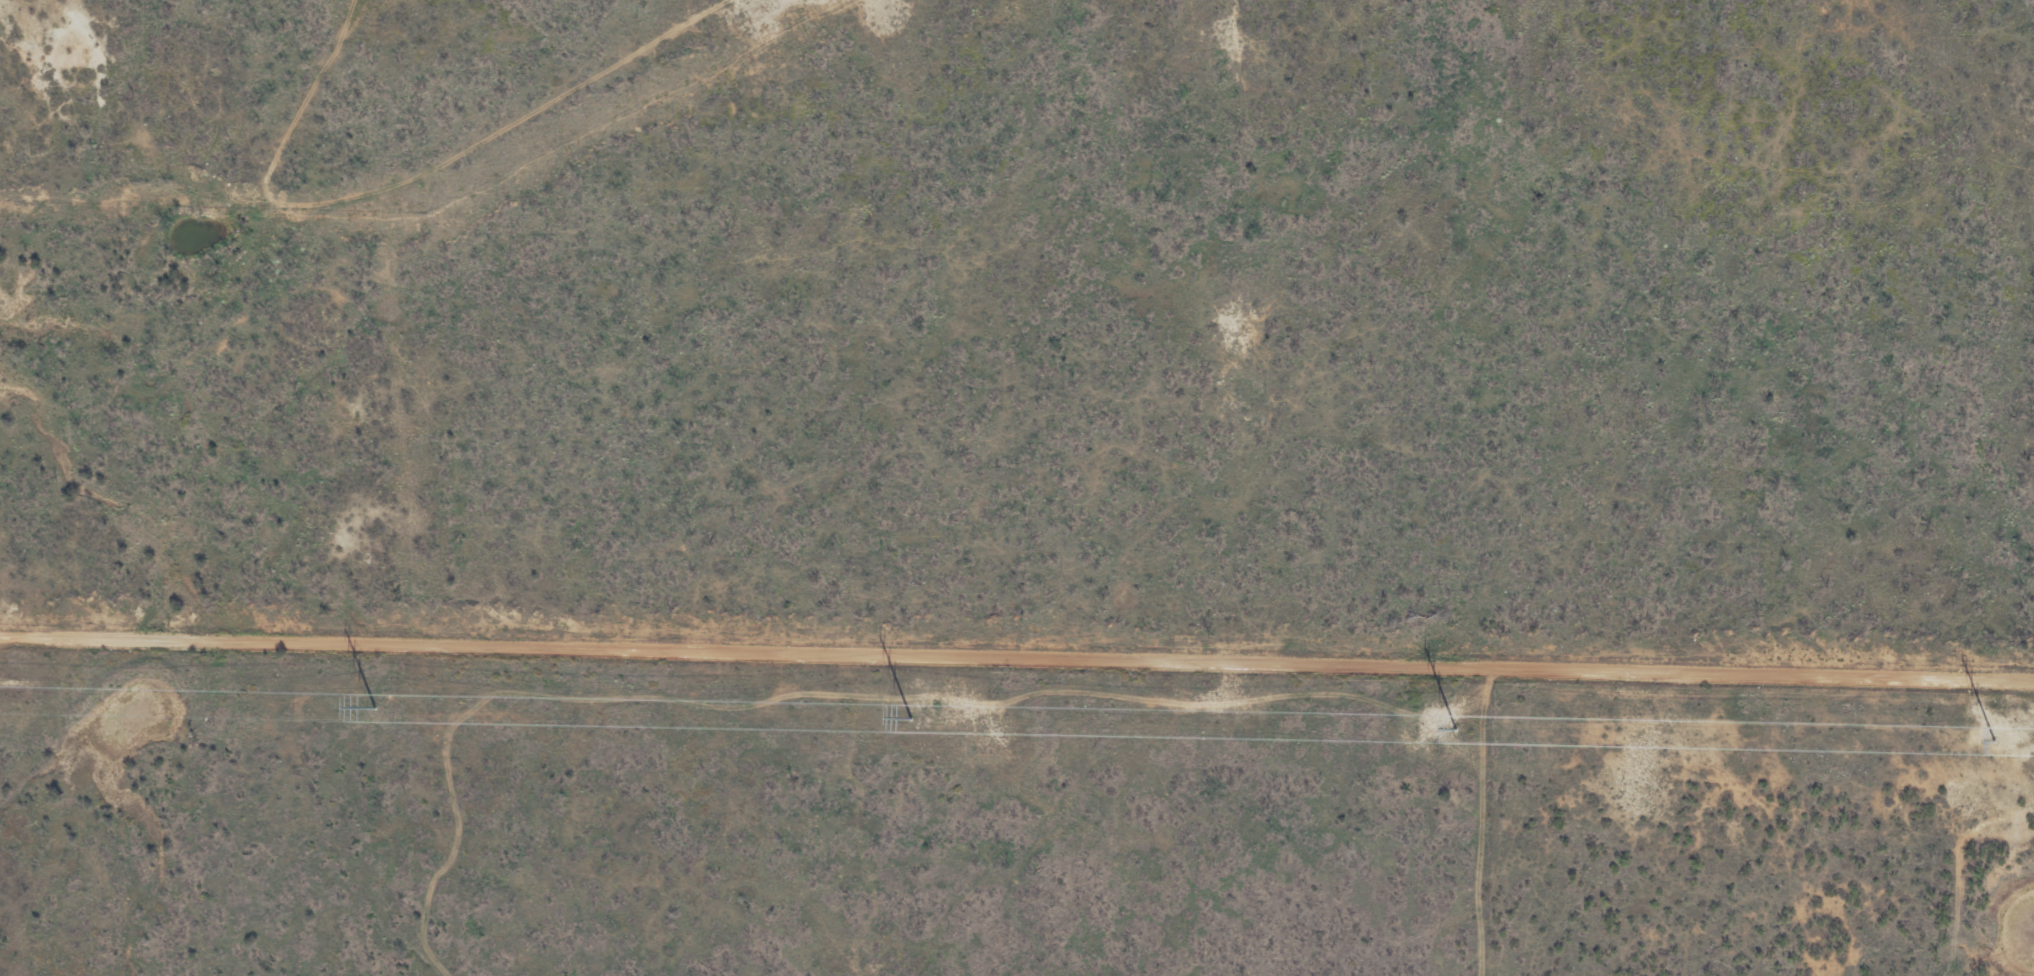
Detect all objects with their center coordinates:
road: (406, 176)
road: (1017, 655)
power tower: (375, 707)
power tower: (912, 717)
power tower: (1457, 728)
power tower: (1996, 739)

